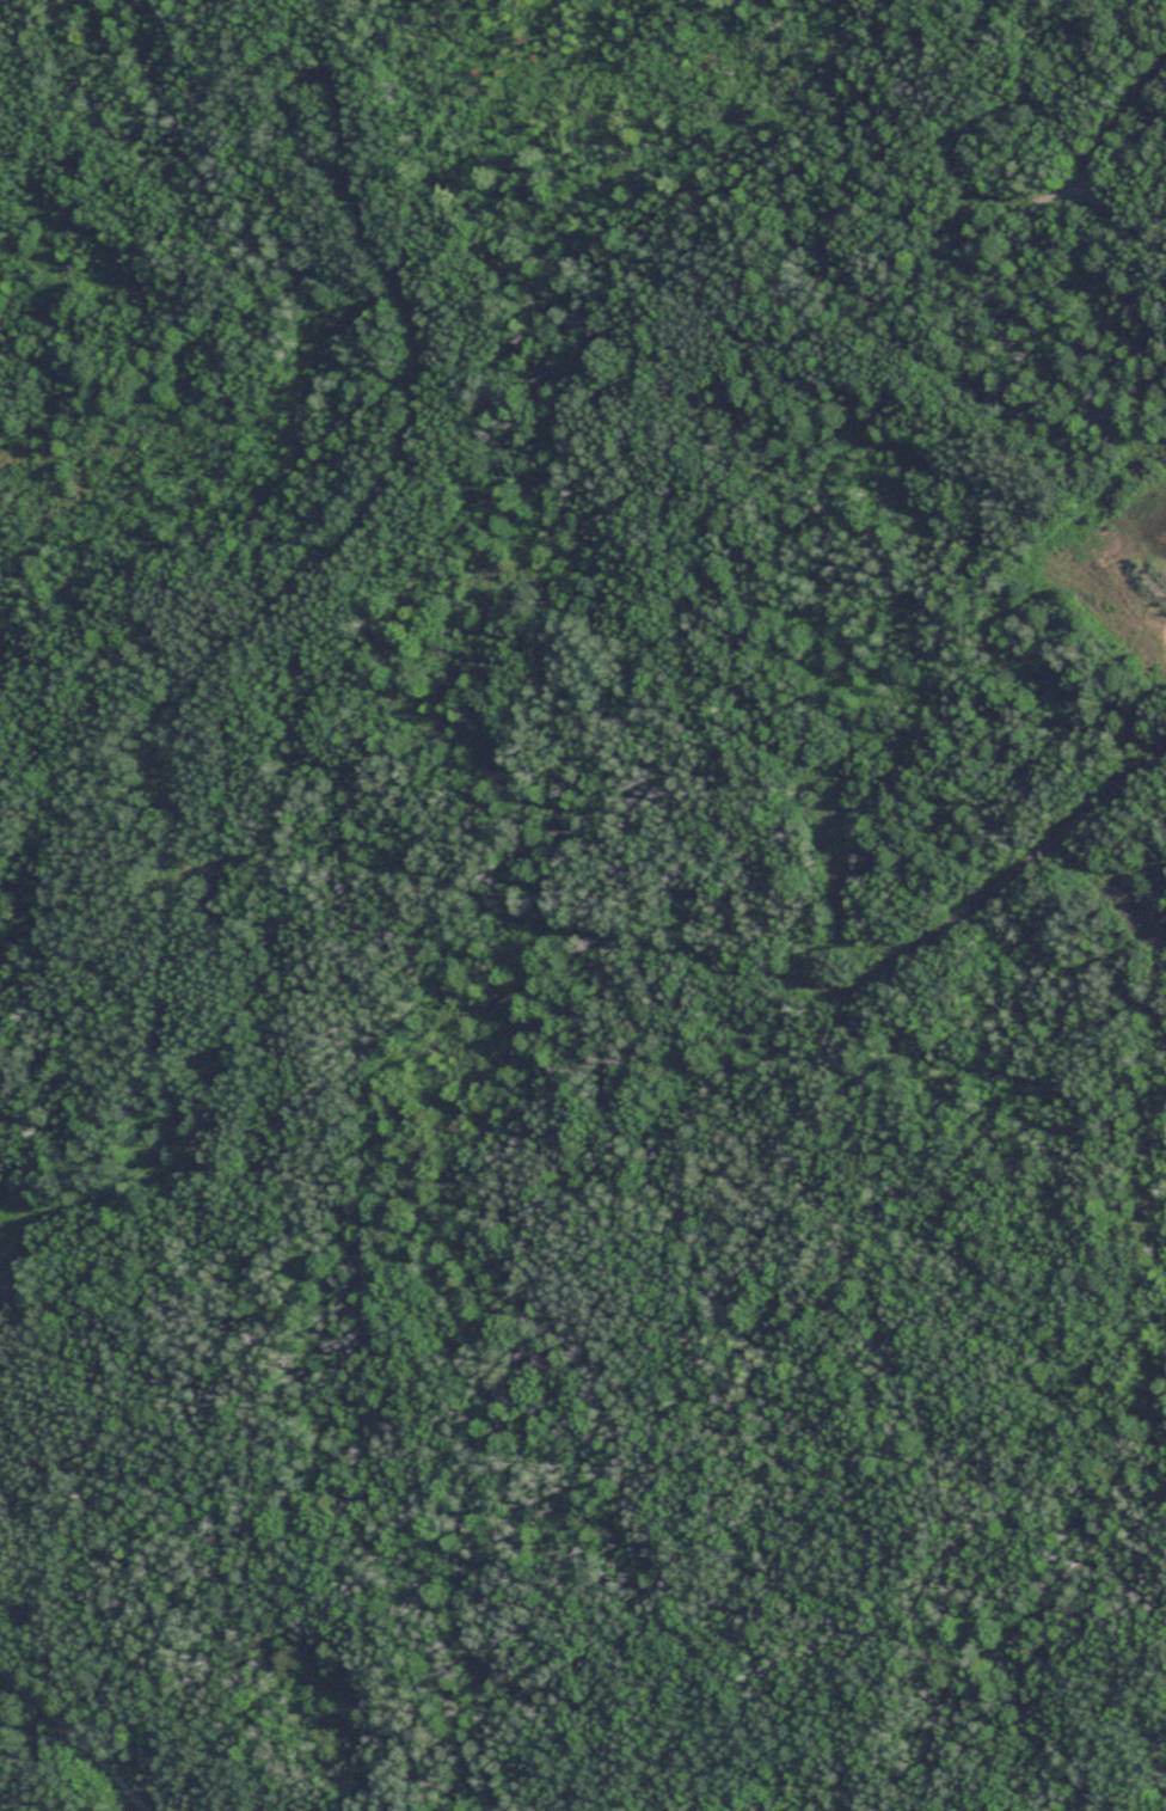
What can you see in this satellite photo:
road: (80, 1733)

